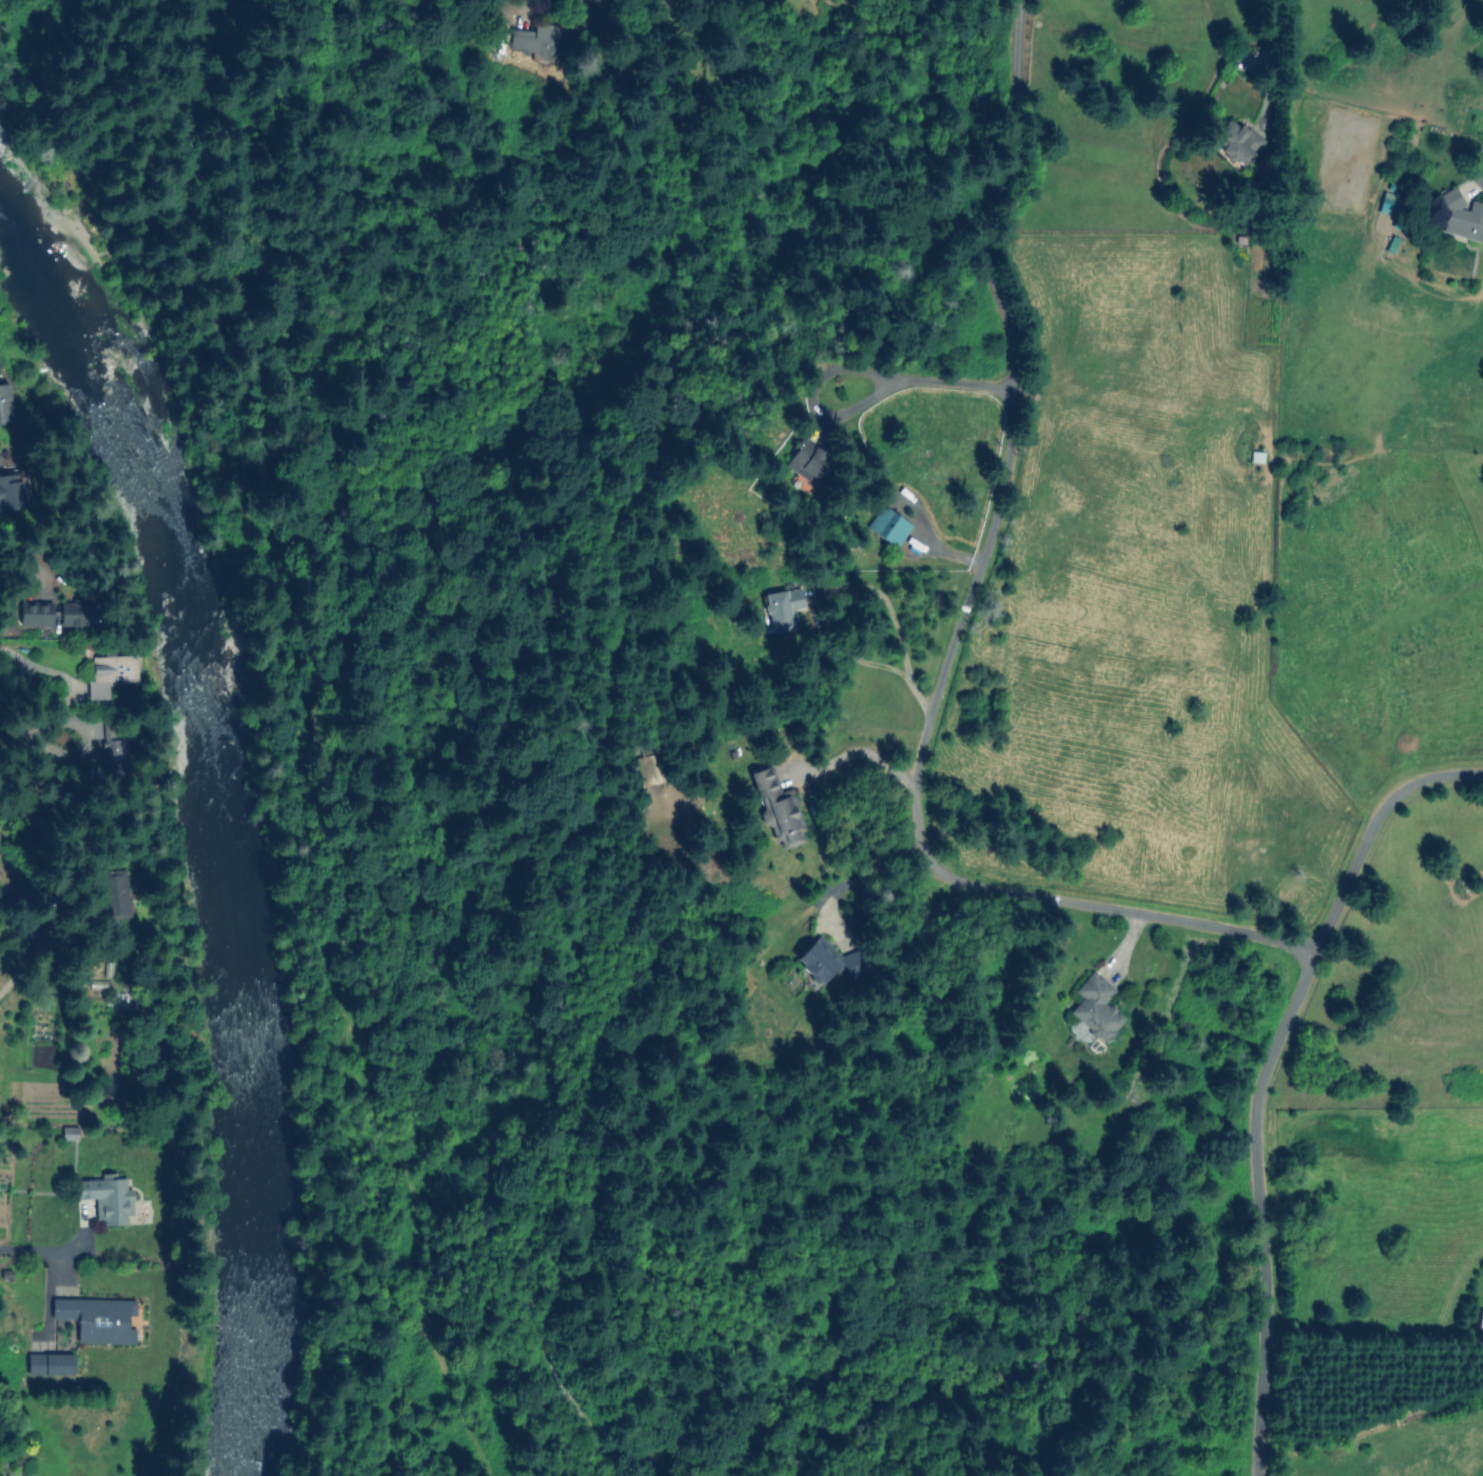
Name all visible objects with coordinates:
building: (530, 39)
road: (1264, 58)
building: (1235, 142)
road: (979, 196)
building: (1384, 204)
building: (1458, 216)
building: (1399, 252)
road: (921, 380)
building: (5, 404)
building: (808, 459)
building: (13, 490)
building: (888, 525)
road: (849, 587)
building: (786, 605)
building: (75, 612)
building: (34, 615)
road: (20, 657)
building: (109, 672)
road: (939, 682)
road: (861, 750)
building: (116, 755)
building: (649, 769)
building: (778, 809)
river: (221, 827)
road: (1368, 828)
road: (857, 874)
building: (116, 895)
road: (1173, 918)
building: (817, 962)
road: (18, 969)
building: (1095, 1006)
building: (69, 1133)
building: (107, 1197)
road: (1260, 1208)
road: (33, 1249)
building: (97, 1318)
building: (1480, 1319)
building: (49, 1363)

